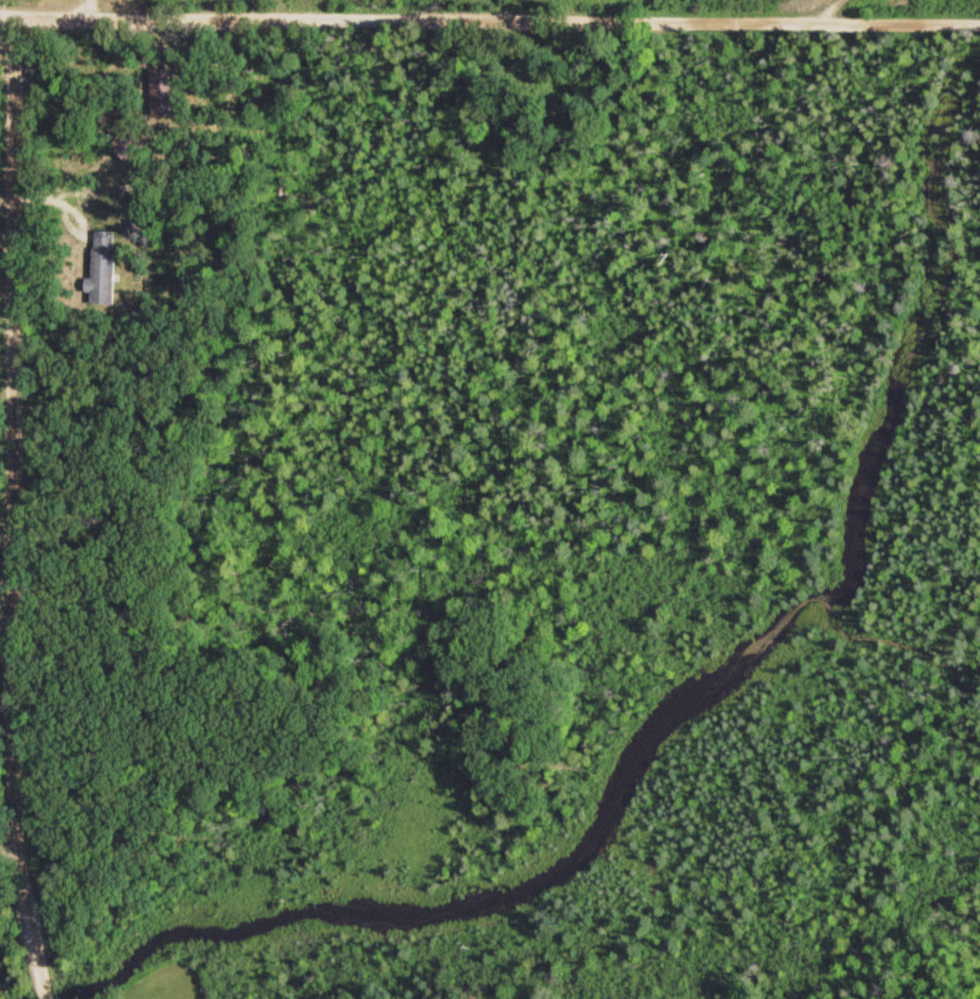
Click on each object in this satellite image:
road: (100, 6)
road: (489, 16)
building: (175, 90)
road: (21, 507)

